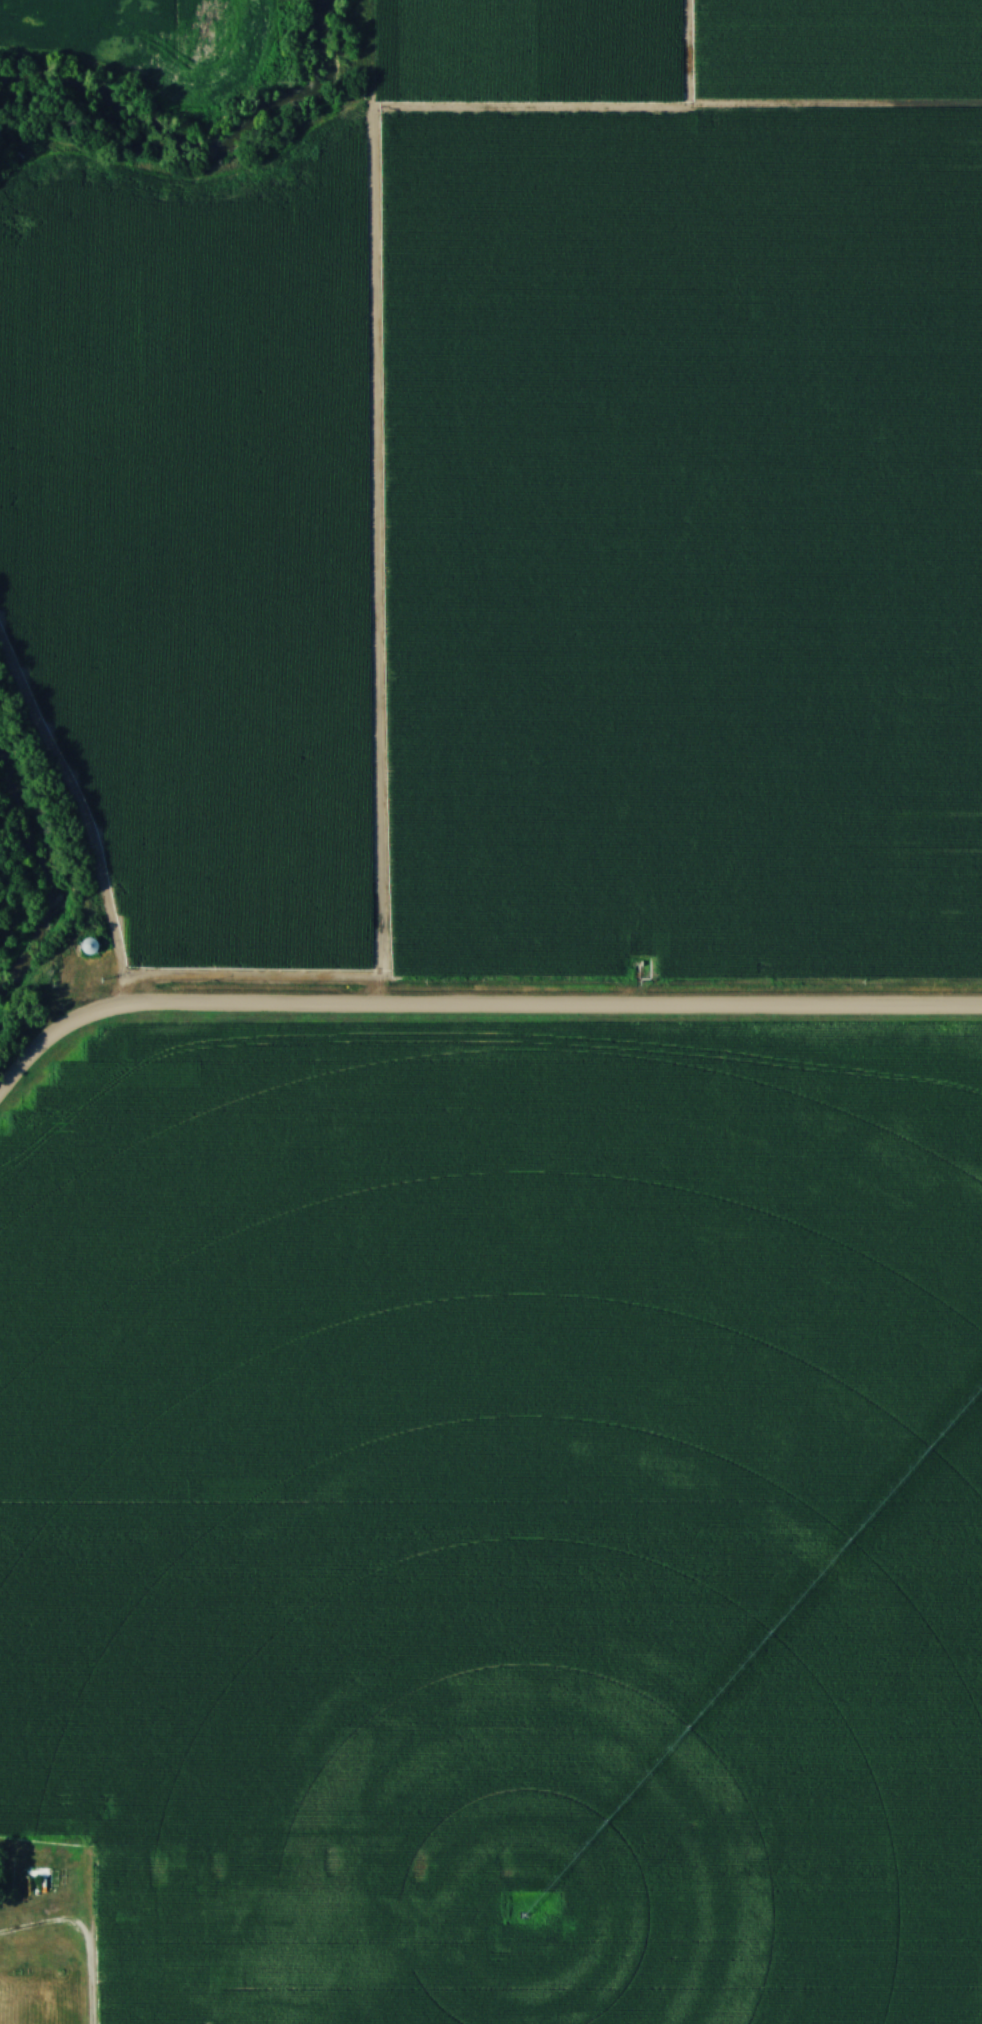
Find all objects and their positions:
river: (202, 154)
river: (53, 884)
building: (90, 947)
road: (475, 1010)

